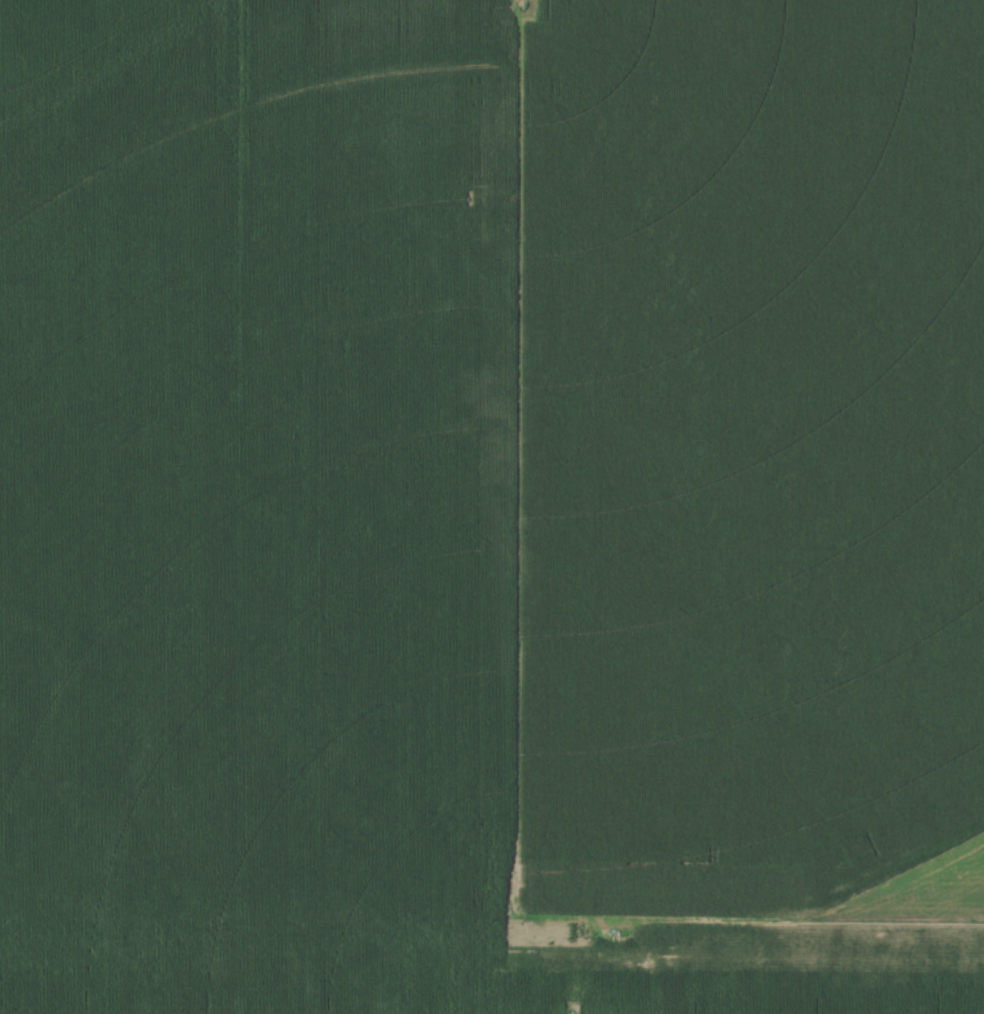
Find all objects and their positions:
building: (691, 626)

